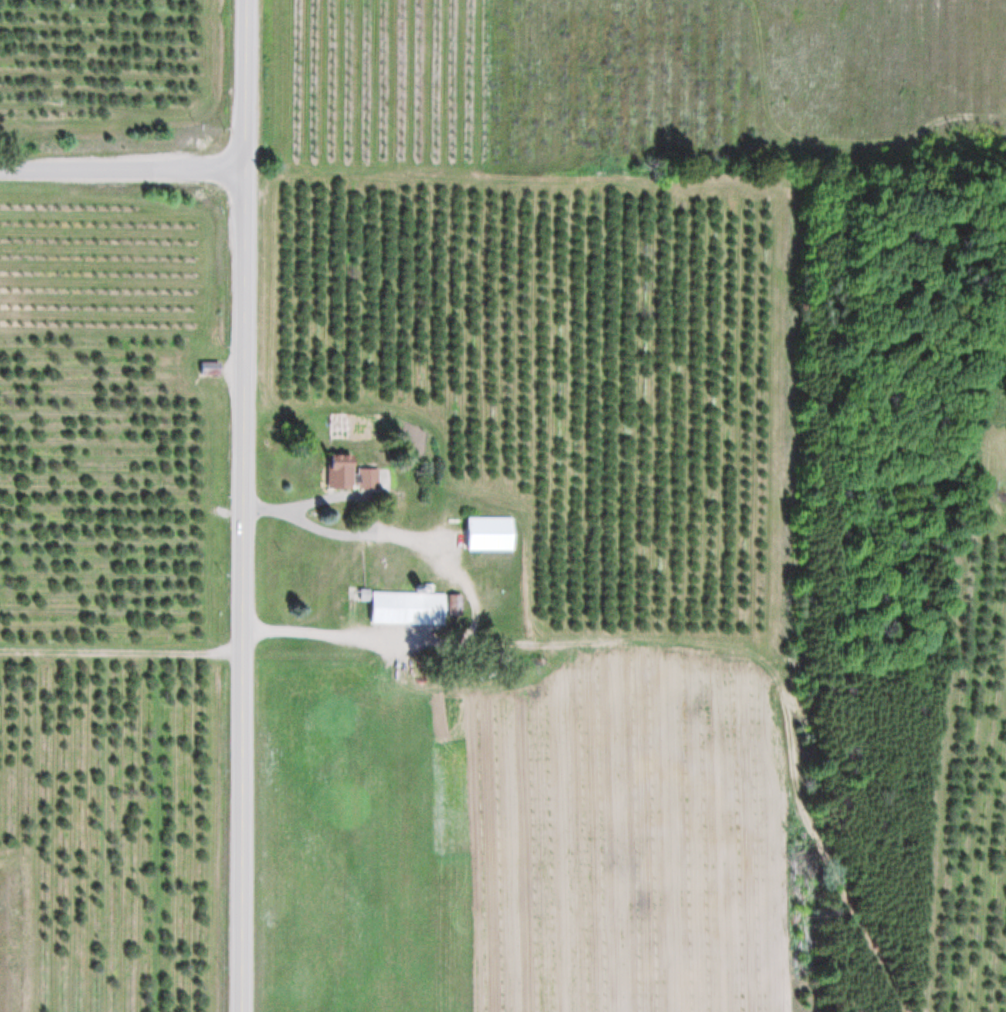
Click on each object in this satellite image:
road: (123, 167)
building: (210, 368)
building: (352, 473)
road: (244, 506)
building: (408, 608)

